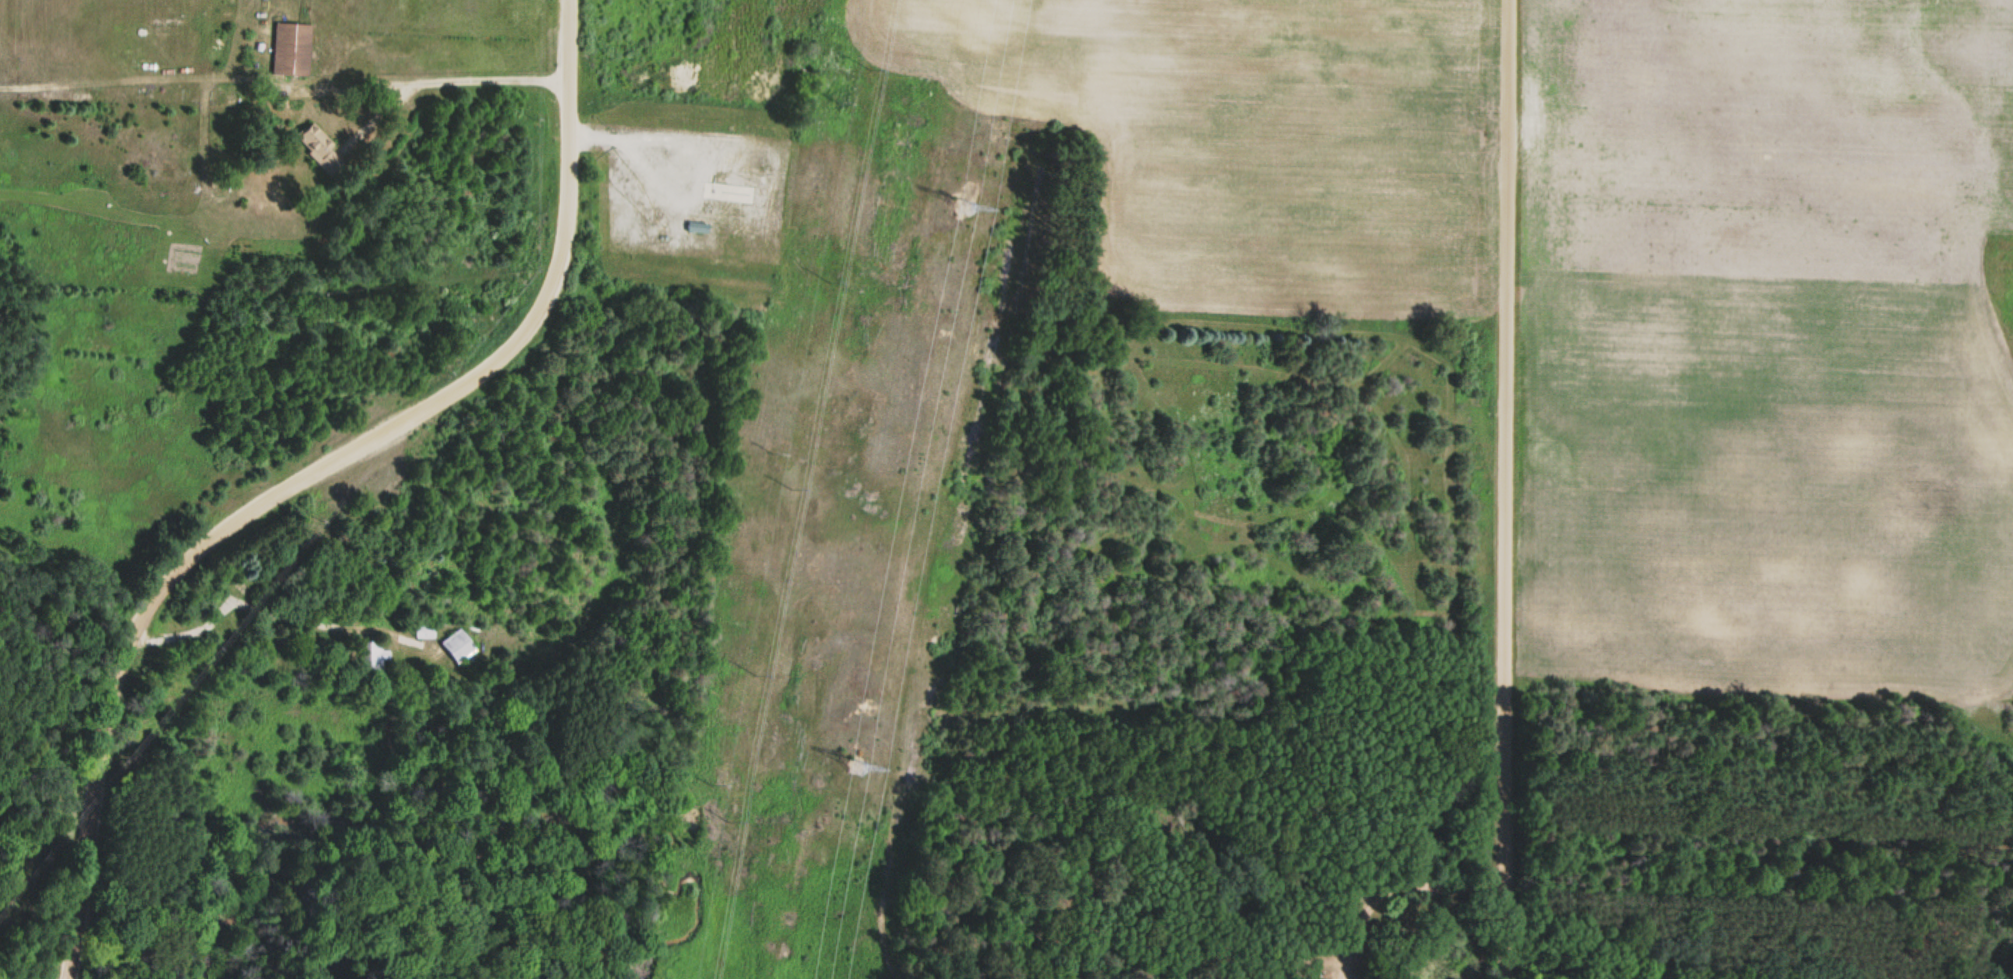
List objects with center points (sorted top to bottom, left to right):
building: (292, 49)
building: (318, 147)
power tower: (963, 204)
road: (308, 474)
road: (1501, 489)
building: (458, 645)
building: (372, 659)
power tower: (856, 763)

